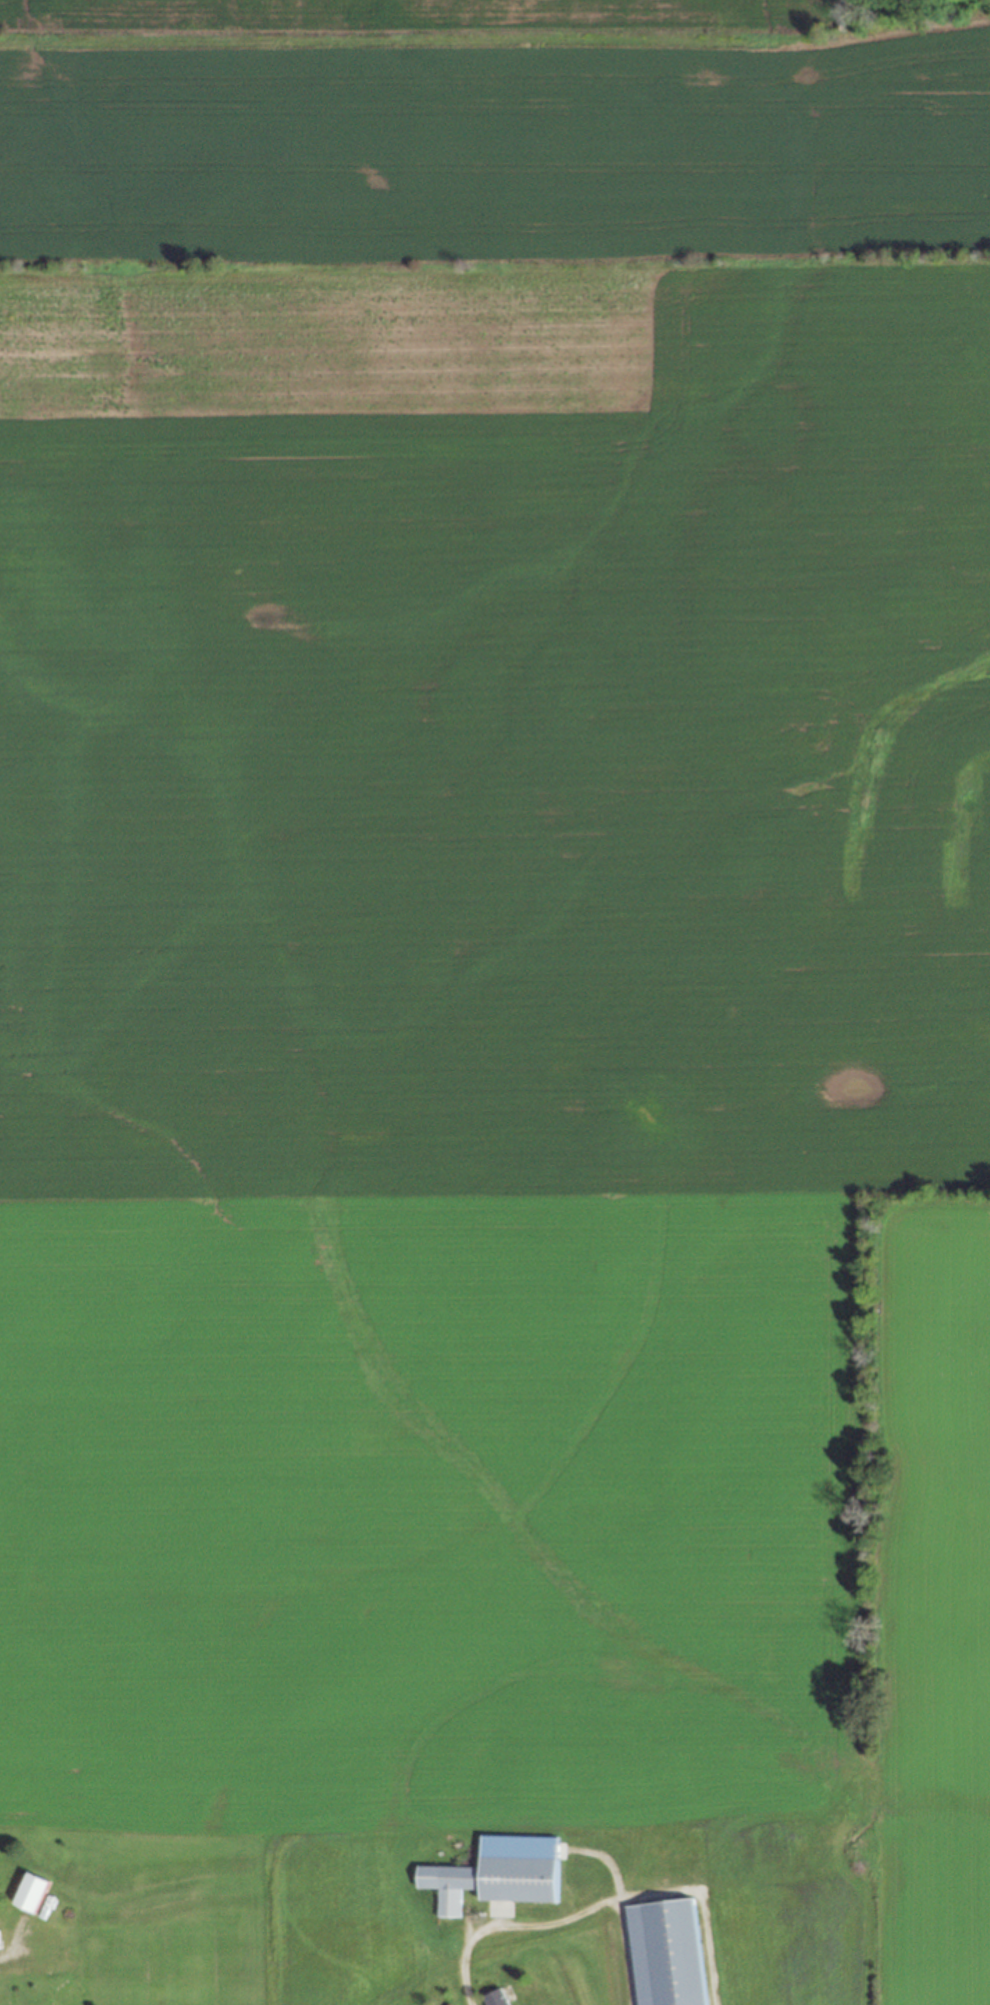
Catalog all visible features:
building: (515, 1879)
building: (443, 1885)
building: (27, 1893)
road: (601, 1900)
building: (664, 1953)
building: (493, 1998)

